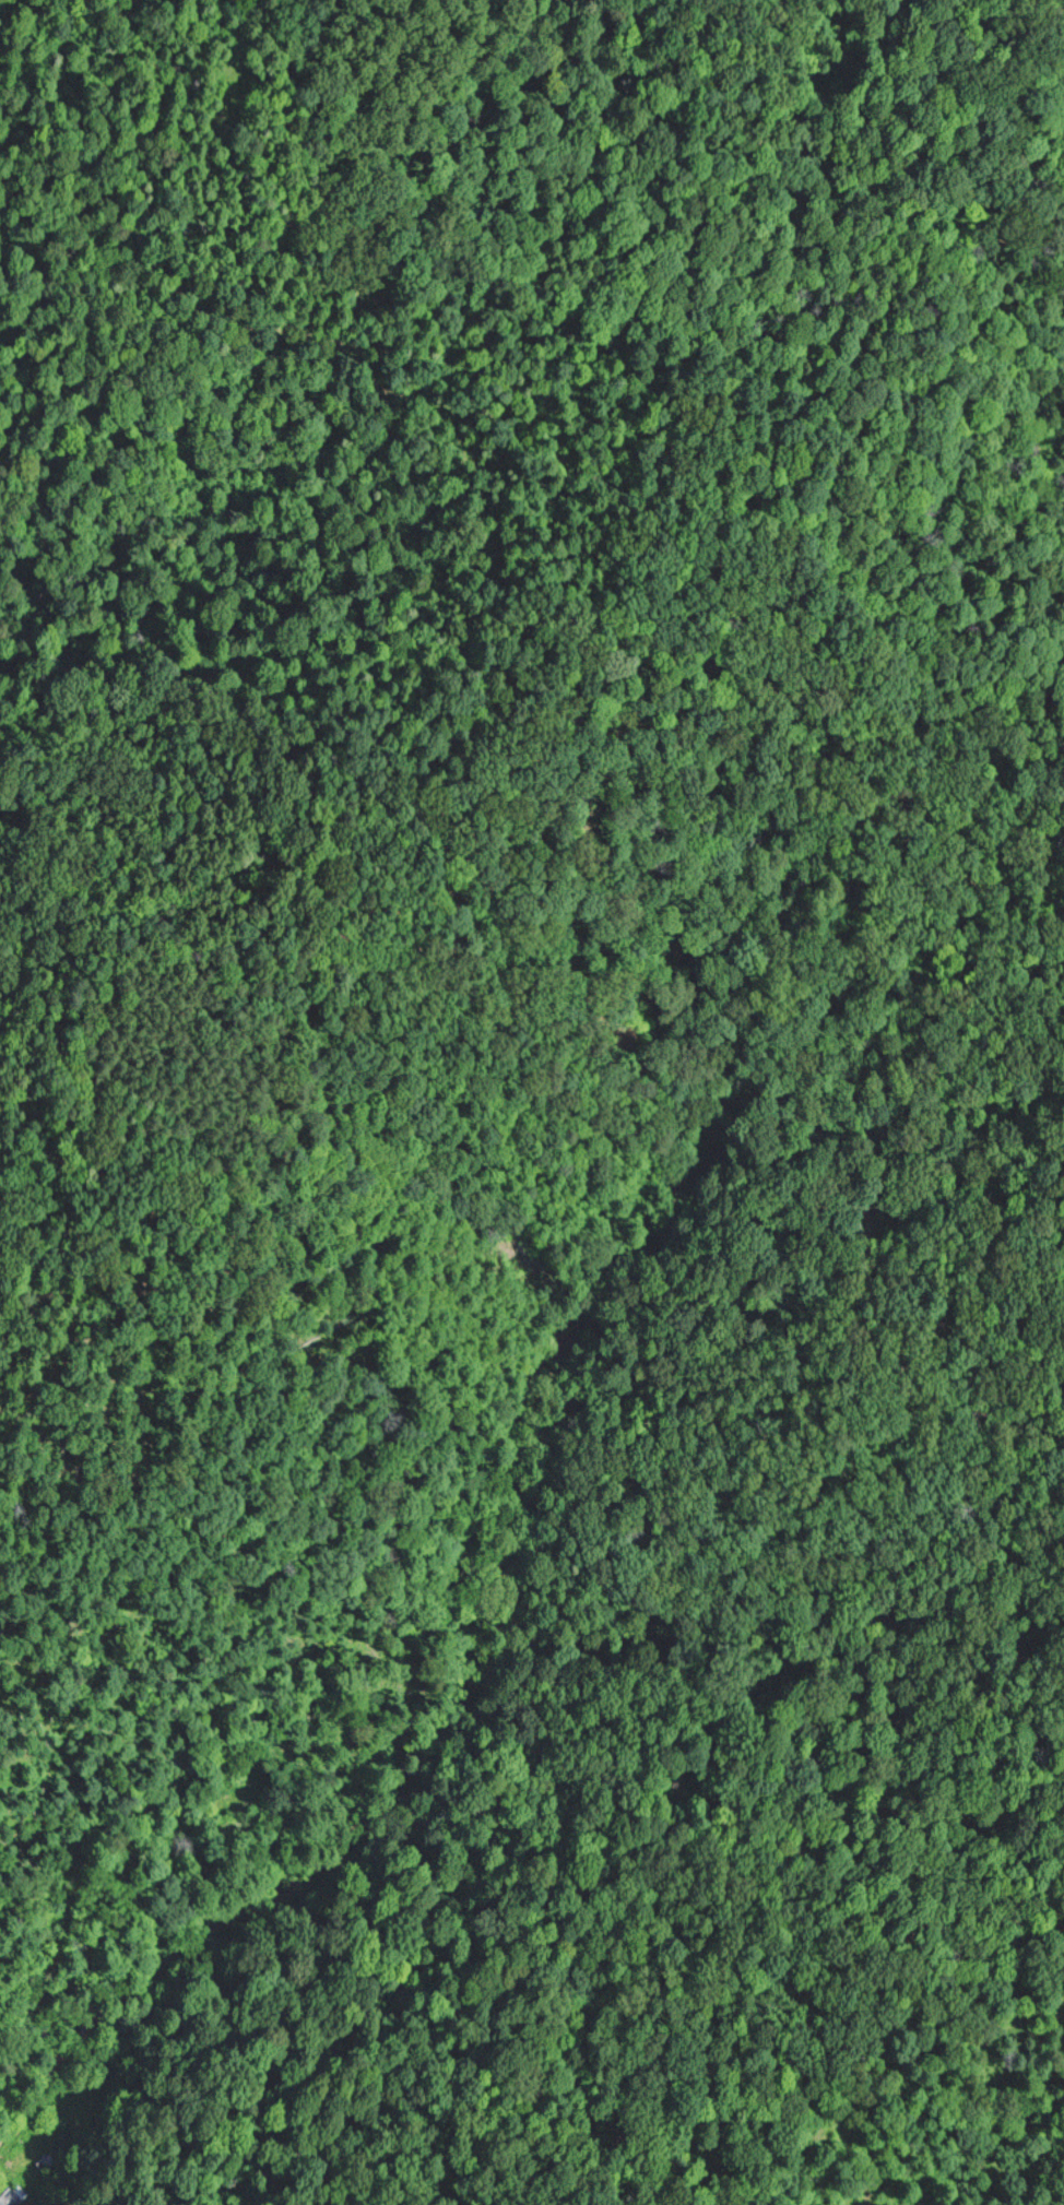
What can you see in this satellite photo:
building: (50, 2161)

